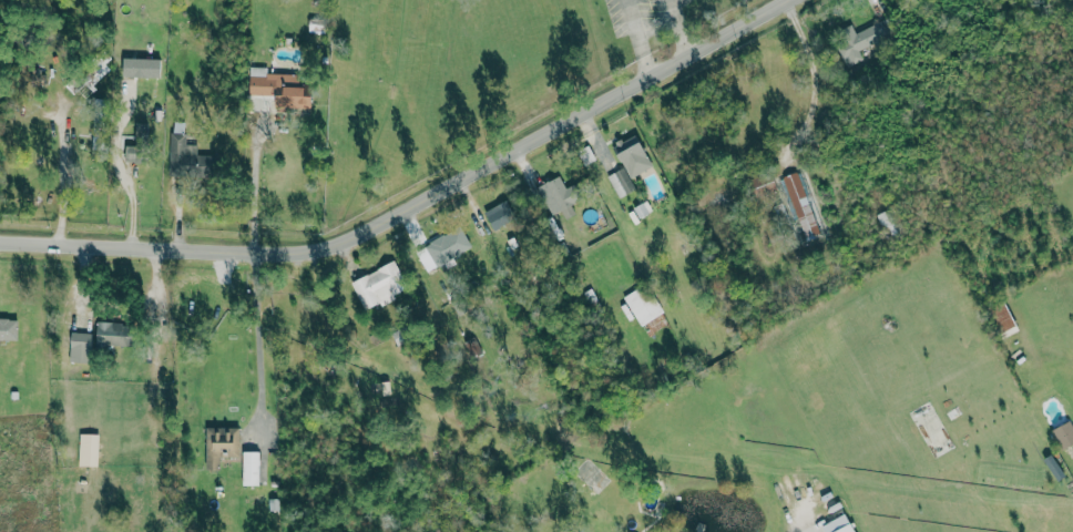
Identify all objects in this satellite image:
road: (679, 27)
building: (859, 41)
building: (141, 68)
building: (91, 75)
road: (814, 76)
building: (39, 78)
building: (279, 89)
building: (182, 149)
building: (632, 155)
road: (62, 174)
building: (621, 182)
road: (255, 187)
building: (558, 197)
road: (415, 206)
building: (801, 206)
building: (643, 209)
building: (500, 215)
building: (448, 247)
building: (379, 285)
building: (643, 305)
building: (1002, 316)
building: (655, 325)
building: (8, 329)
building: (113, 334)
road: (257, 342)
building: (79, 347)
building: (1064, 436)
building: (221, 446)
building: (89, 450)
building: (1054, 468)
building: (251, 469)
building: (840, 524)

